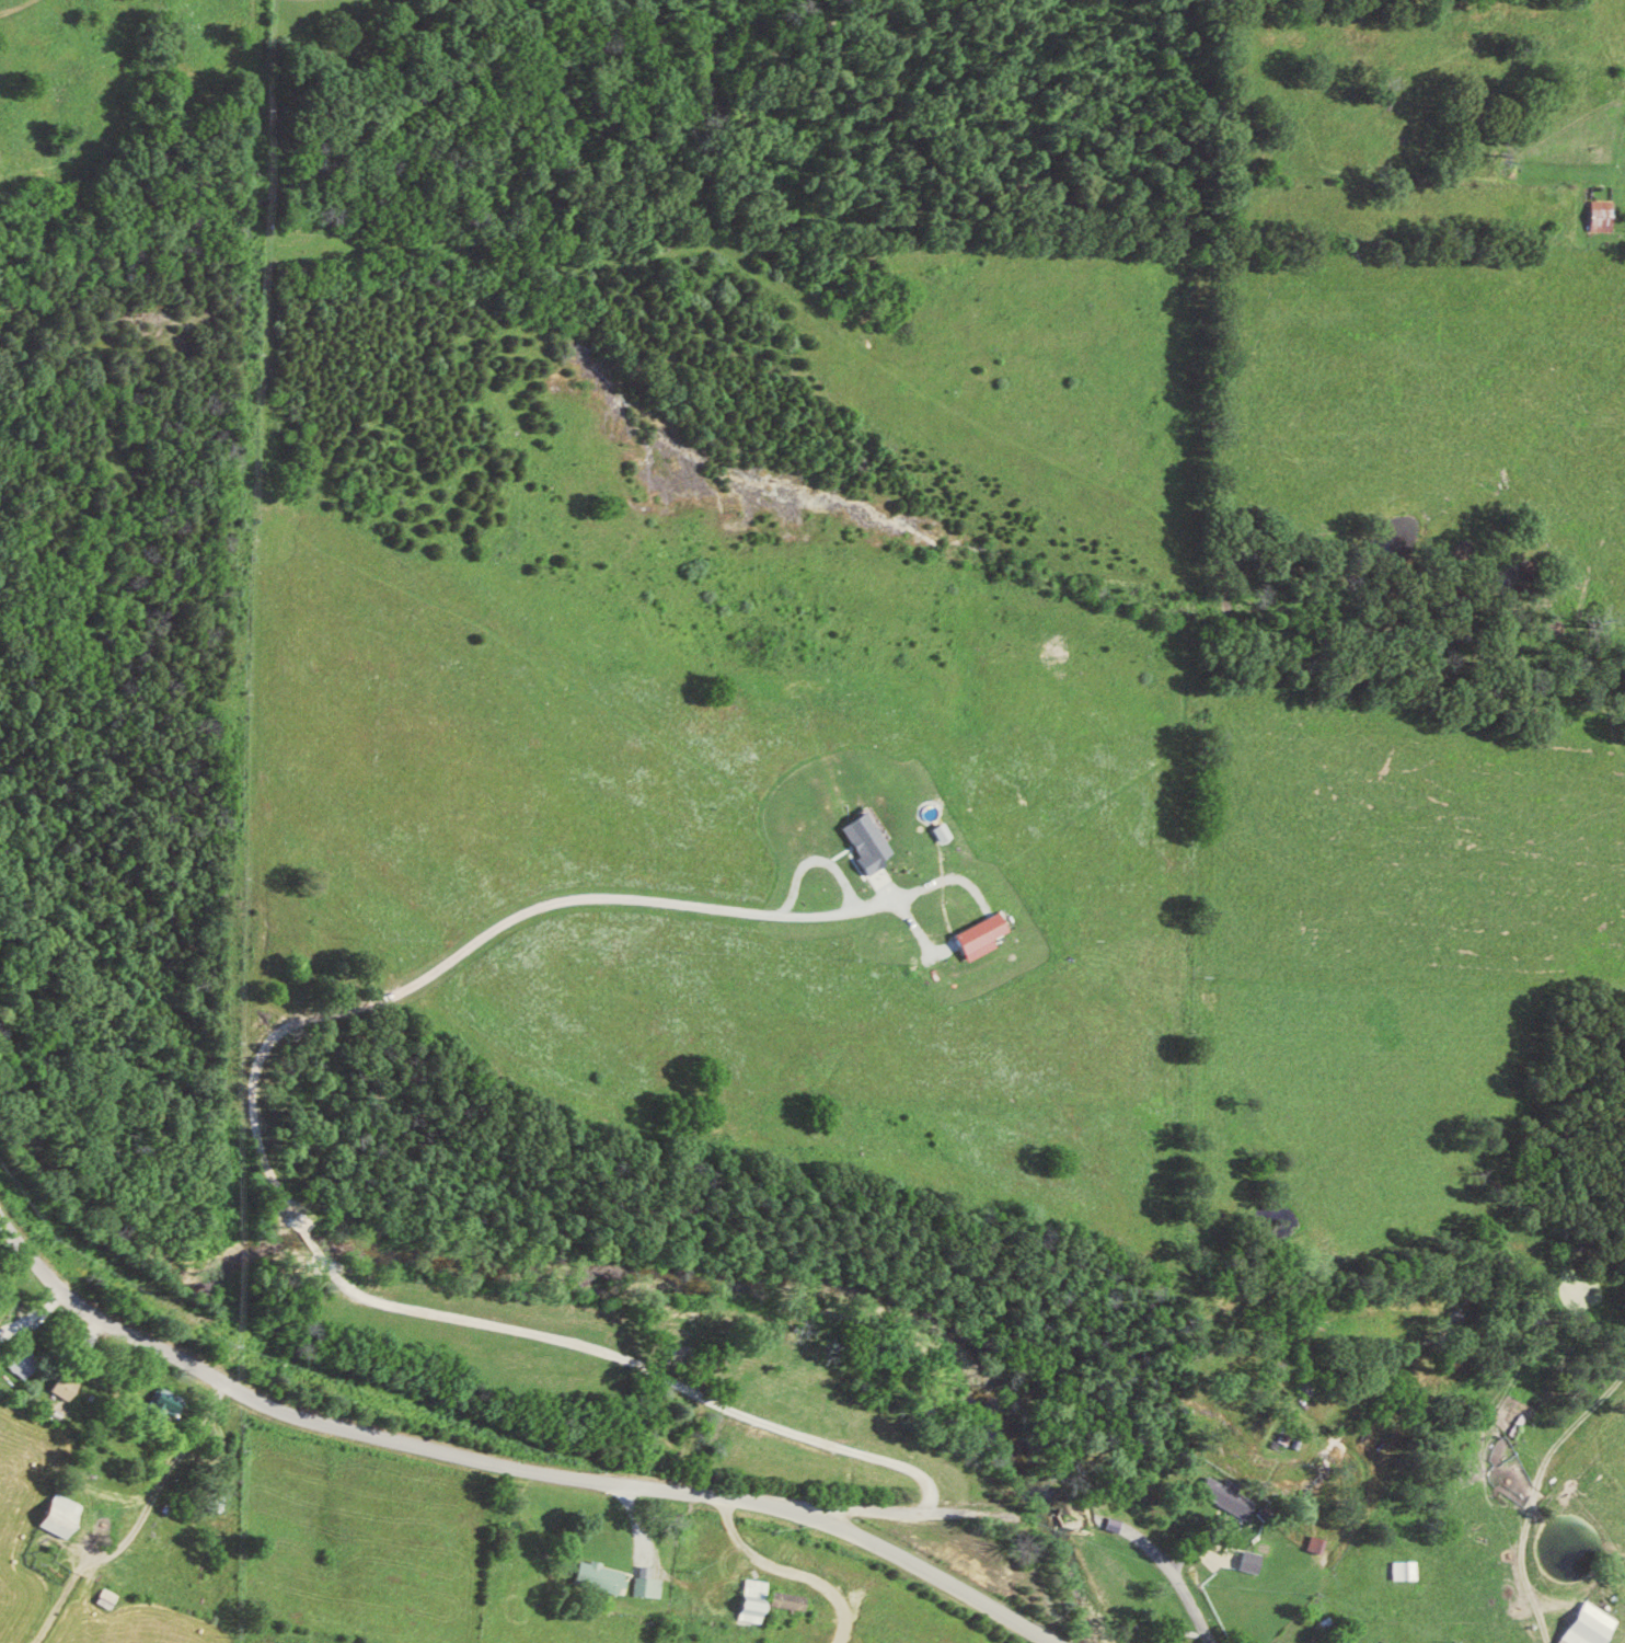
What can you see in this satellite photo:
building: (1609, 215)
building: (873, 841)
building: (989, 934)
building: (0, 1341)
building: (27, 1364)
building: (70, 1386)
building: (171, 1403)
road: (511, 1464)
road: (166, 1480)
building: (1232, 1495)
building: (64, 1514)
road: (1047, 1519)
building: (1256, 1560)
road: (717, 1569)
building: (1409, 1570)
road: (1520, 1570)
building: (603, 1576)
building: (653, 1583)
building: (758, 1599)
building: (793, 1599)
building: (1592, 1625)

